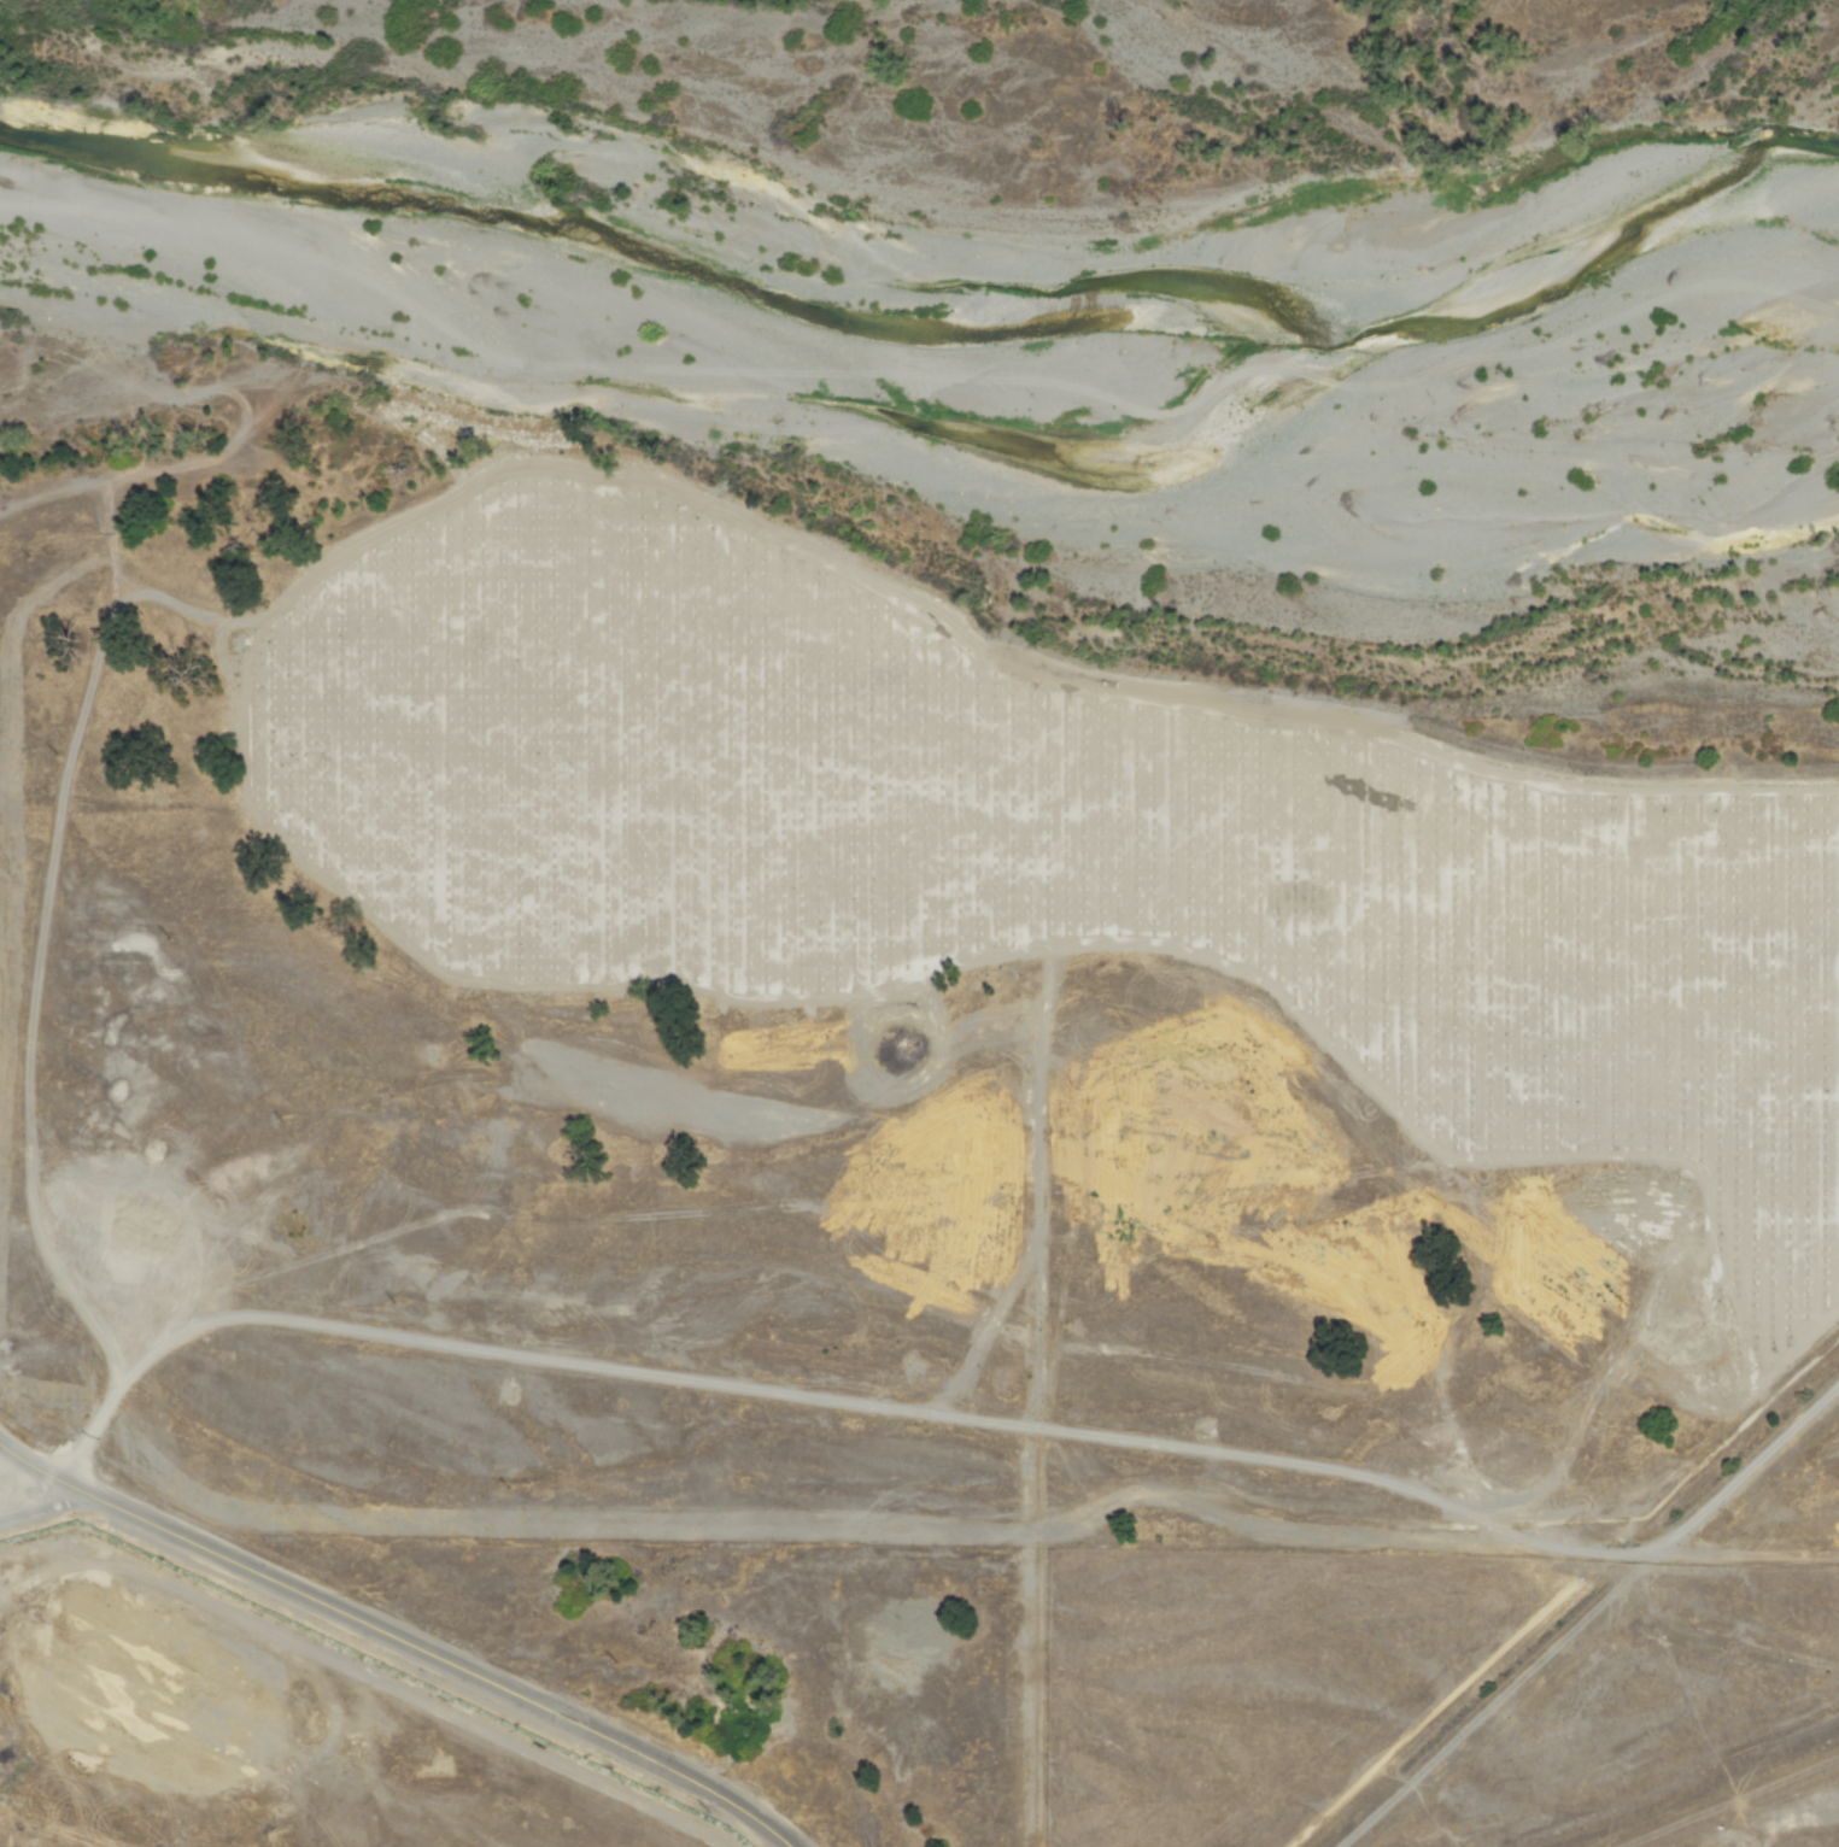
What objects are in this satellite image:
river: (925, 326)
road: (33, 1503)
road: (398, 1640)

